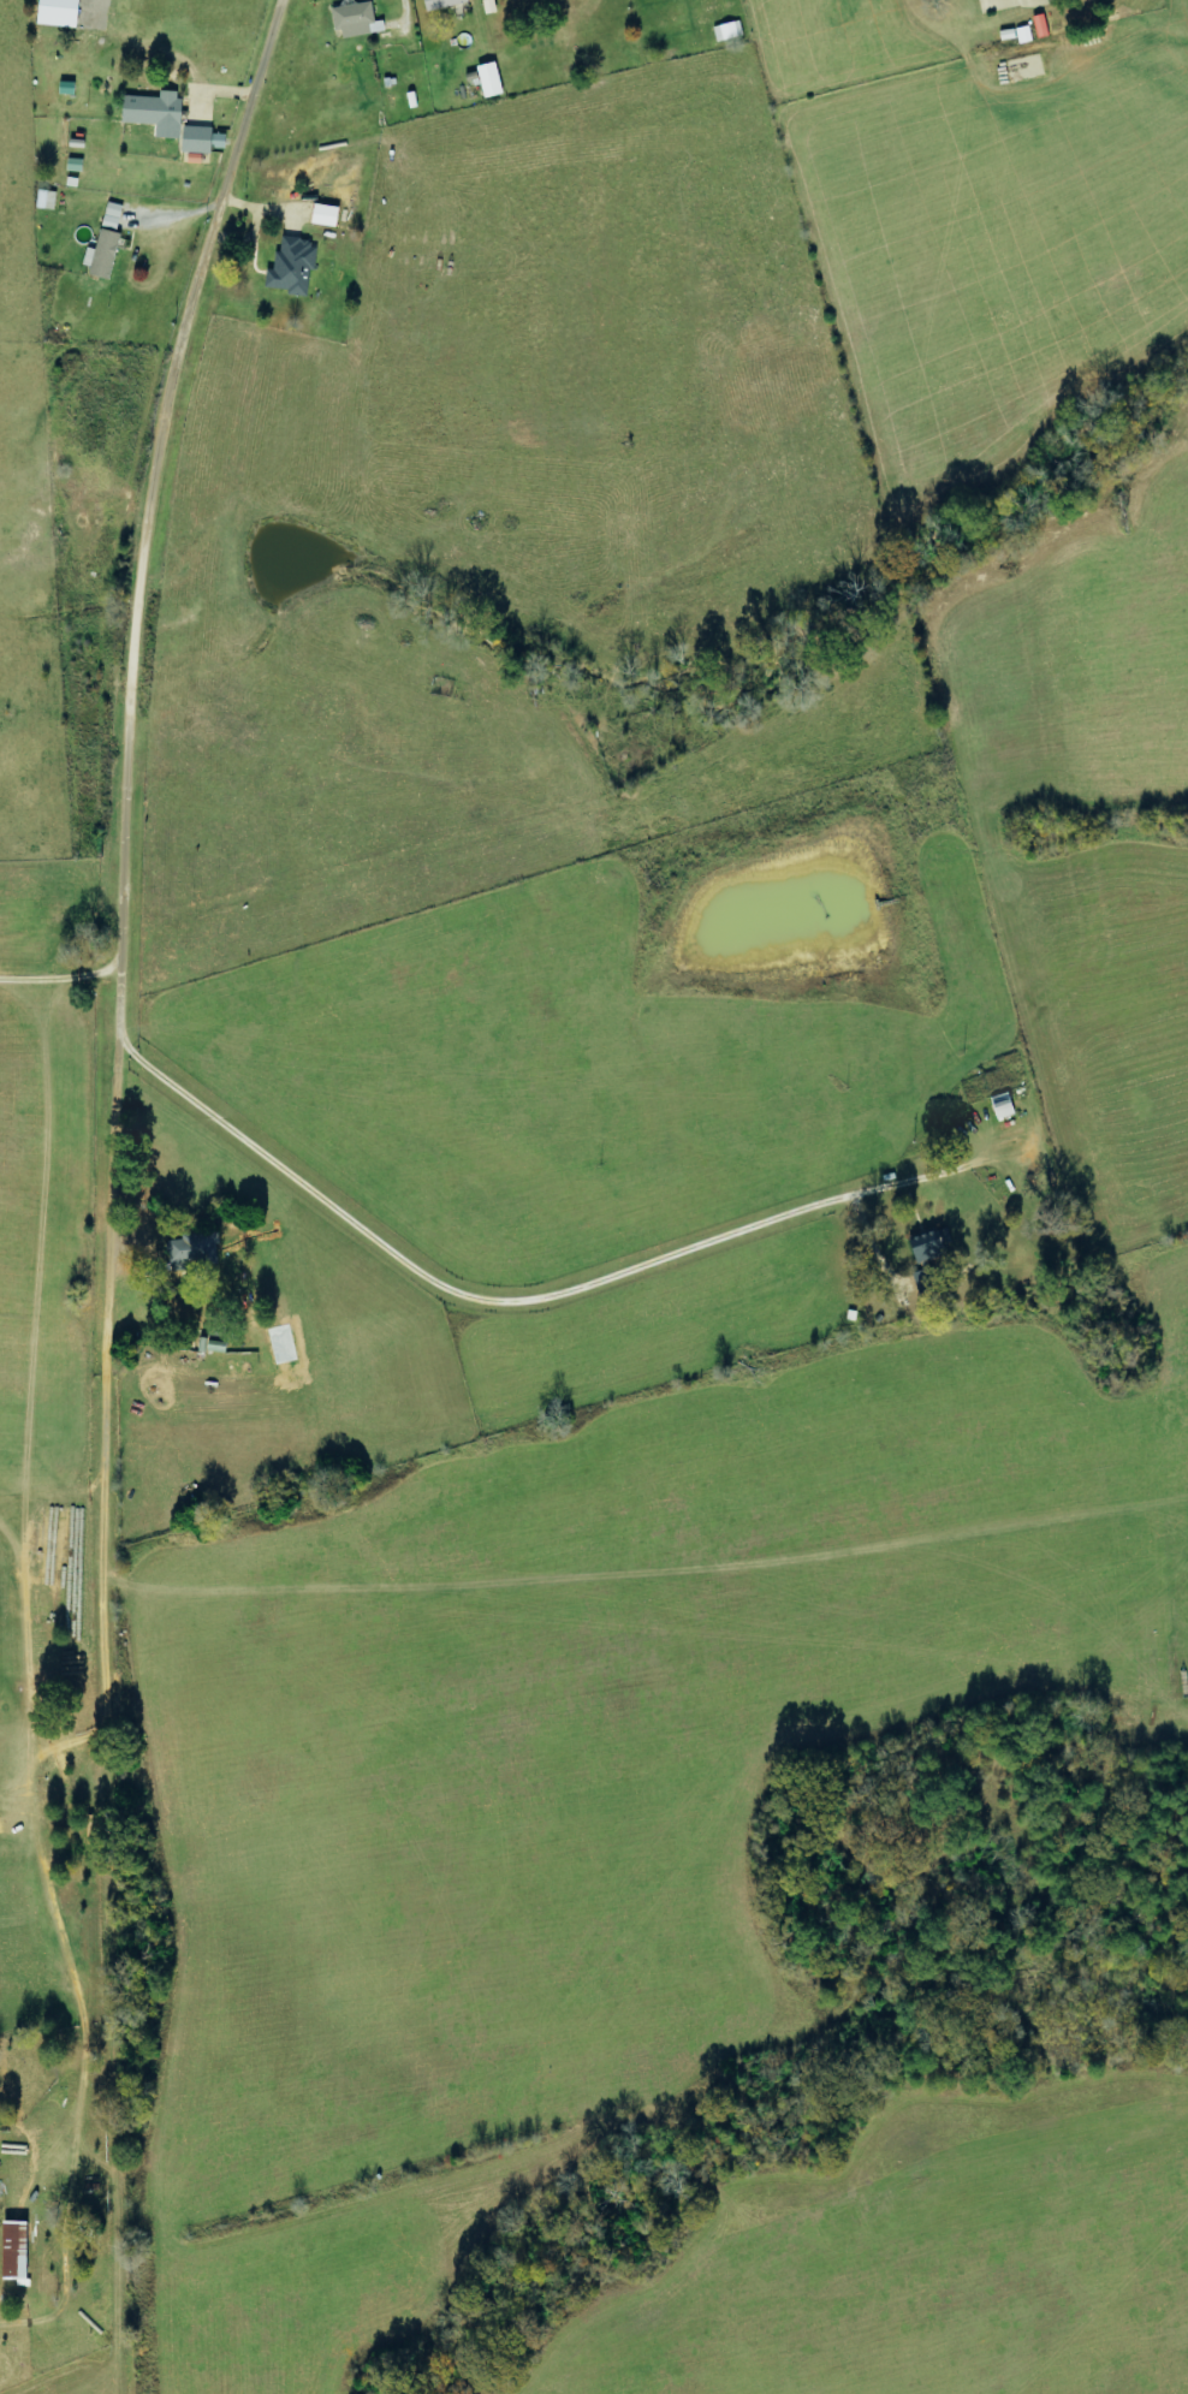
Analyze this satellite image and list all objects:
building: (440, 4)
building: (58, 12)
building: (356, 20)
building: (727, 30)
building: (473, 79)
building: (489, 79)
building: (154, 113)
building: (201, 139)
building: (44, 200)
building: (323, 215)
building: (103, 243)
building: (291, 267)
road: (129, 1223)
building: (926, 1247)
building: (194, 1249)
building: (12, 2250)

